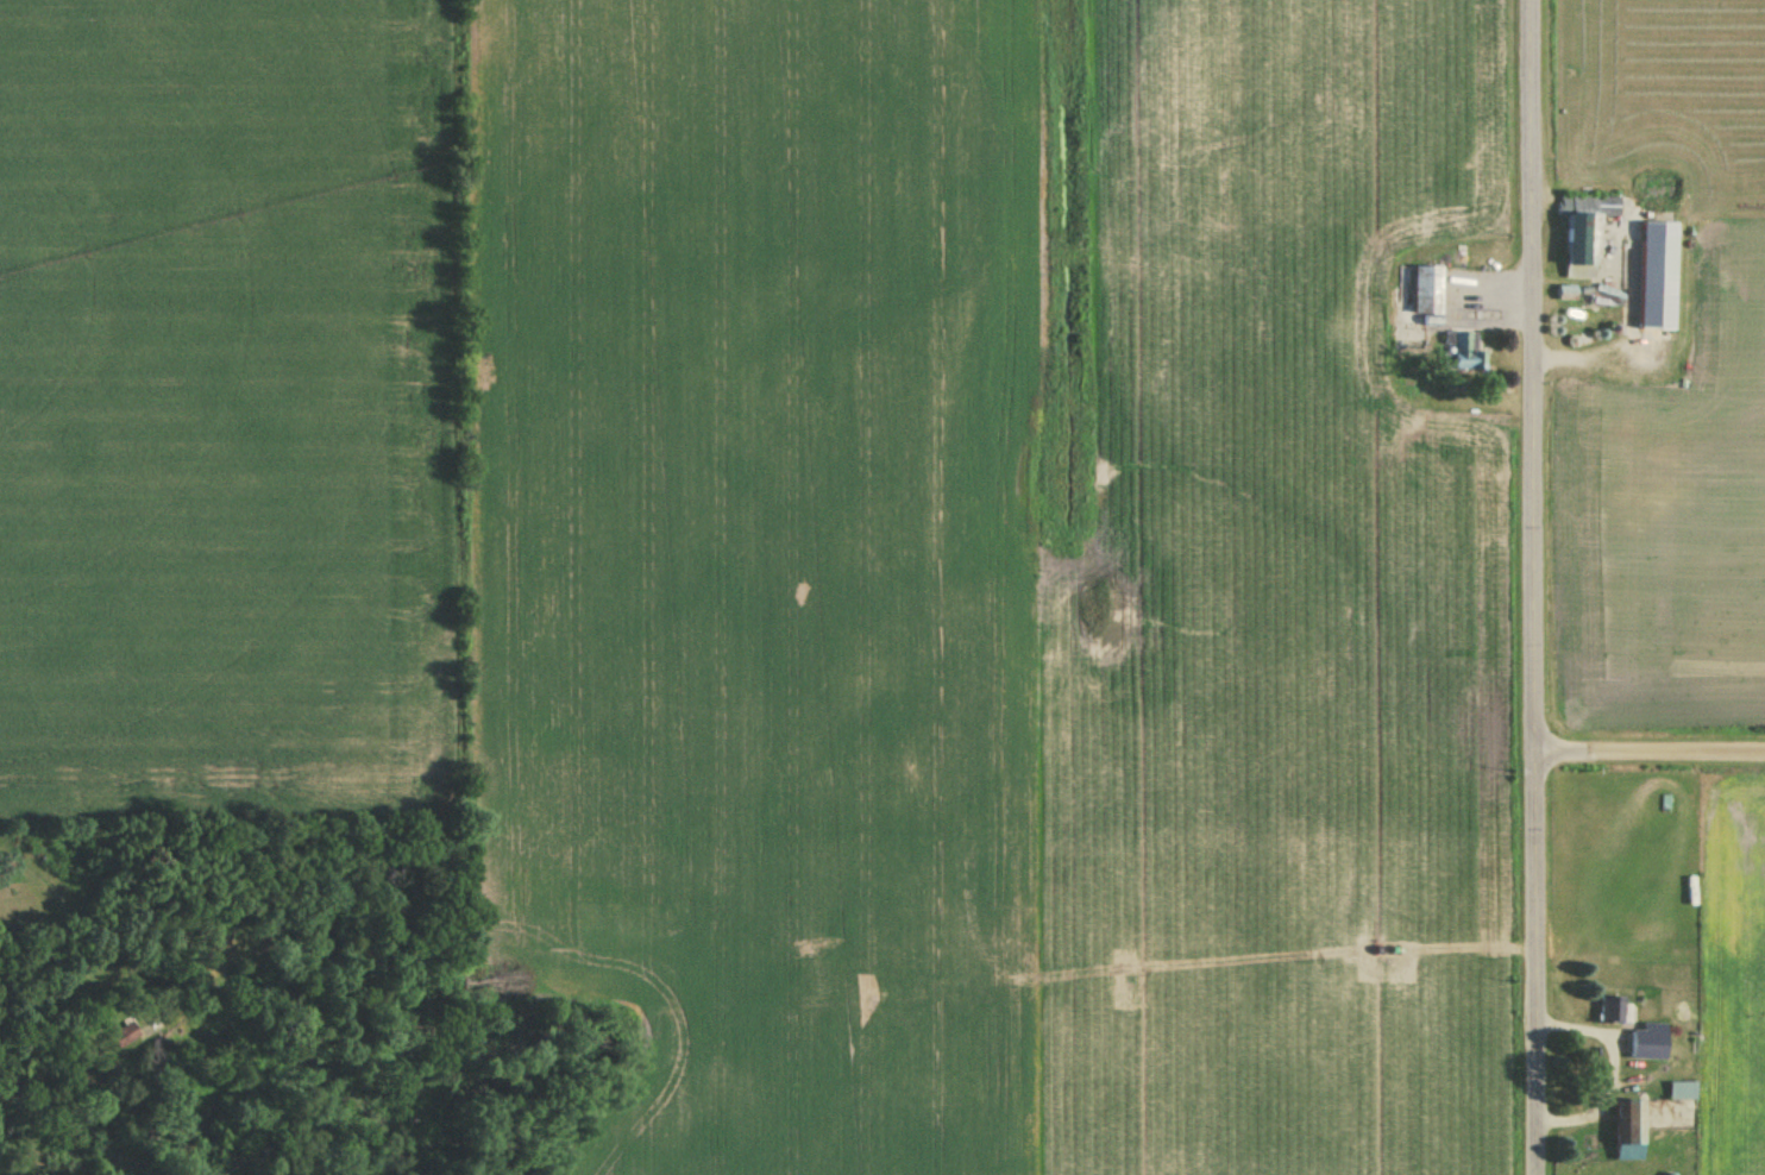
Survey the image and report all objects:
building: (1583, 234)
building: (1657, 277)
building: (1422, 293)
building: (1564, 295)
building: (1350, 333)
building: (1459, 353)
road: (1537, 587)
road: (1651, 752)
building: (1610, 1010)
building: (1645, 1043)
building: (1626, 1131)

